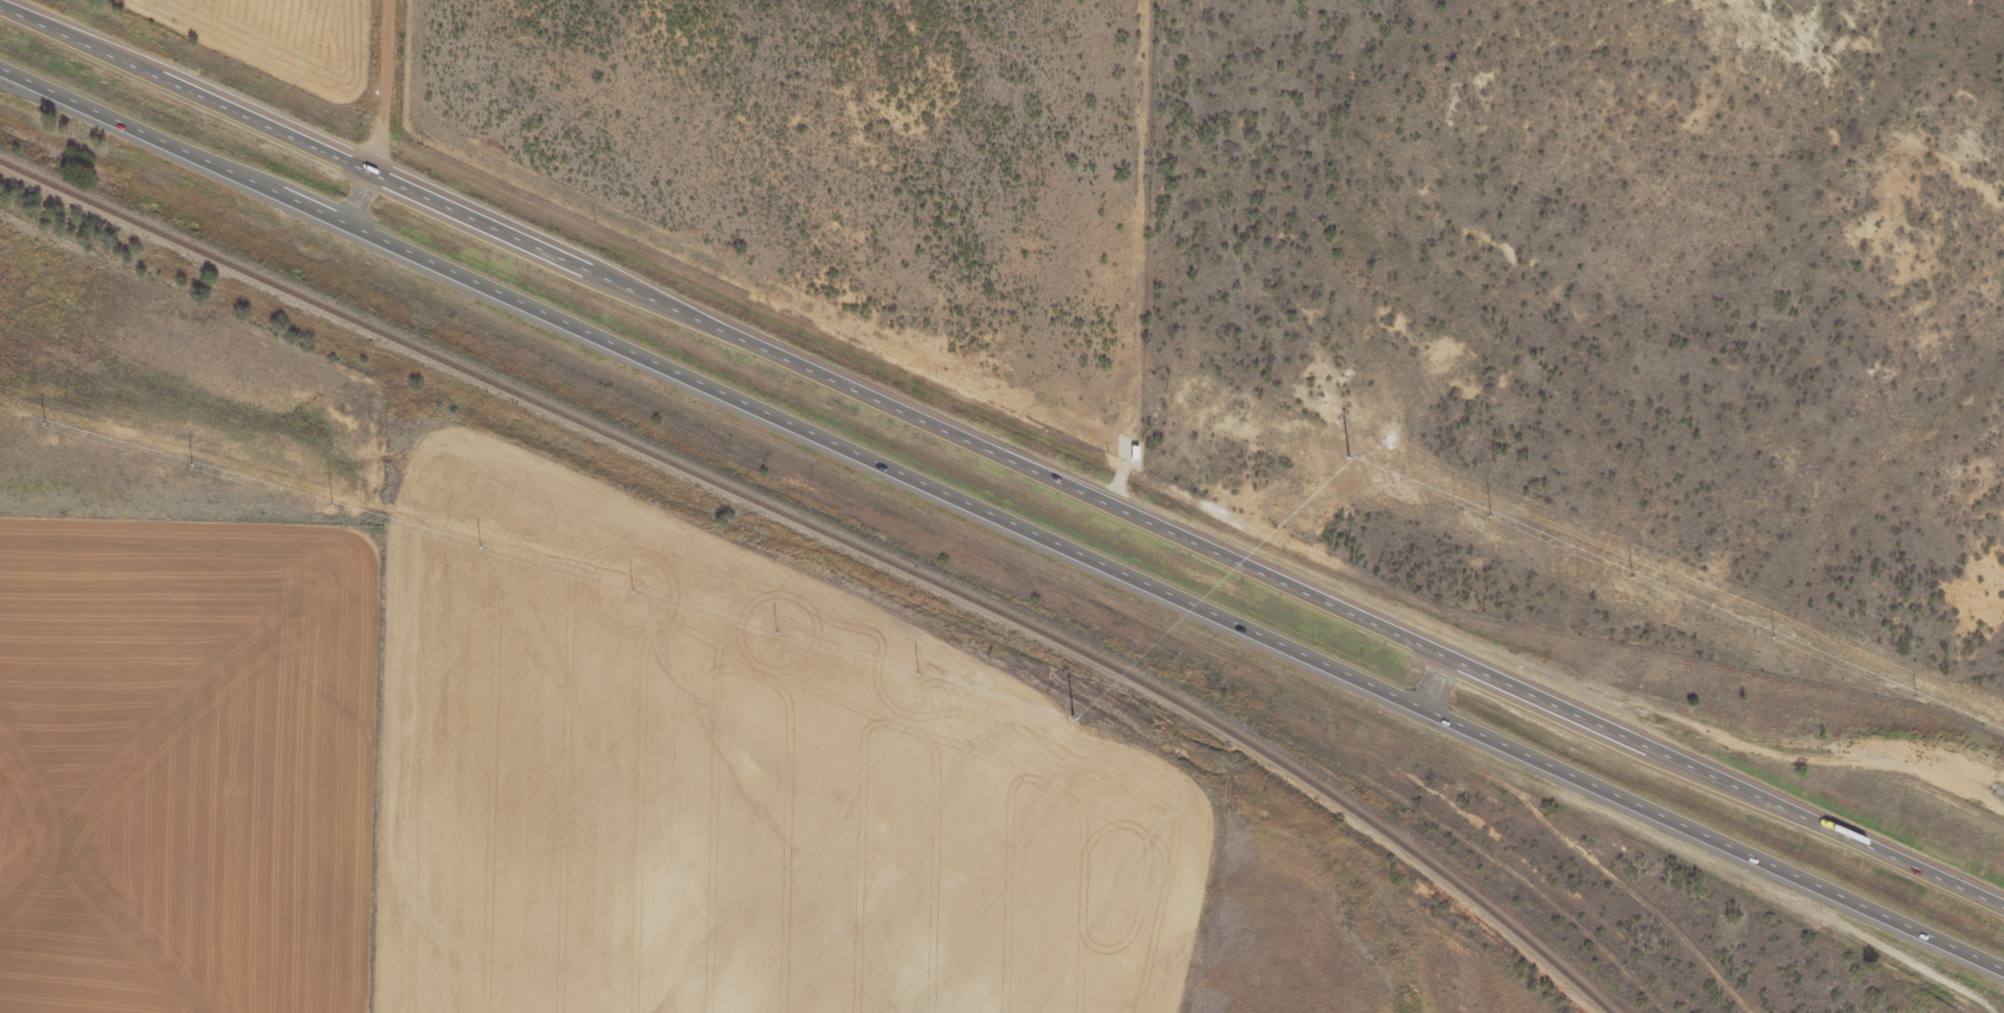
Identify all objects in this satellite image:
road: (386, 116)
road: (707, 387)
road: (1002, 453)
railway: (834, 536)
road: (1426, 678)
road: (1710, 837)
road: (1584, 854)

